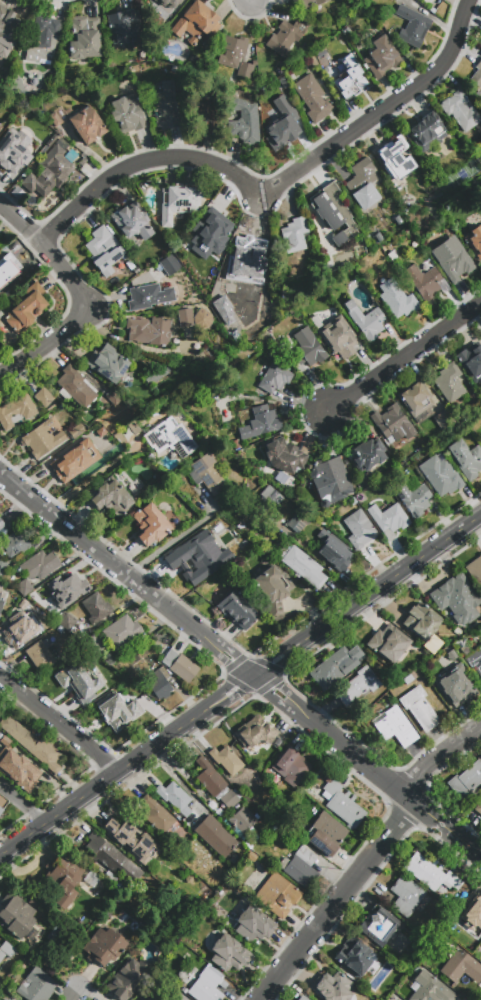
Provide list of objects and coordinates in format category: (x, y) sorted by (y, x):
building: (170, 2)
building: (305, 4)
building: (196, 22)
building: (412, 26)
building: (124, 27)
building: (7, 30)
building: (346, 31)
building: (83, 37)
building: (285, 38)
building: (44, 39)
building: (139, 52)
building: (235, 55)
building: (320, 57)
building: (381, 57)
building: (312, 60)
building: (99, 67)
building: (278, 71)
building: (475, 71)
building: (350, 79)
building: (313, 98)
building: (166, 107)
building: (460, 110)
building: (204, 113)
building: (128, 114)
building: (55, 119)
building: (243, 120)
building: (0, 126)
building: (86, 126)
building: (284, 126)
building: (36, 130)
building: (428, 132)
building: (11, 151)
building: (397, 161)
building: (49, 172)
building: (363, 184)
road: (272, 187)
building: (17, 192)
building: (179, 202)
building: (335, 212)
building: (131, 223)
building: (214, 228)
building: (296, 234)
building: (474, 240)
building: (103, 251)
building: (248, 256)
building: (452, 258)
building: (170, 265)
building: (10, 270)
building: (426, 281)
road: (81, 296)
building: (149, 296)
building: (397, 299)
building: (26, 307)
building: (223, 310)
building: (185, 317)
building: (365, 320)
building: (148, 331)
building: (338, 337)
building: (306, 349)
road: (403, 355)
building: (471, 361)
building: (108, 364)
building: (275, 378)
building: (450, 382)
building: (76, 387)
building: (43, 397)
building: (416, 399)
building: (16, 410)
building: (221, 410)
building: (443, 419)
building: (261, 422)
building: (393, 424)
building: (76, 431)
building: (169, 438)
building: (42, 439)
building: (480, 439)
building: (204, 440)
building: (250, 455)
building: (367, 455)
building: (284, 456)
building: (465, 458)
building: (66, 465)
building: (206, 474)
building: (440, 475)
road: (89, 477)
building: (330, 480)
building: (111, 496)
building: (264, 496)
building: (412, 496)
building: (361, 498)
building: (352, 501)
building: (176, 518)
building: (389, 519)
building: (298, 520)
building: (323, 524)
building: (151, 525)
building: (2, 528)
building: (359, 529)
road: (178, 536)
building: (16, 543)
building: (333, 551)
building: (201, 556)
building: (39, 565)
building: (301, 565)
building: (3, 566)
building: (475, 570)
road: (127, 574)
building: (66, 585)
building: (24, 587)
building: (273, 587)
building: (0, 595)
building: (457, 599)
building: (1, 604)
building: (233, 605)
building: (96, 608)
building: (54, 609)
building: (66, 620)
building: (421, 621)
building: (18, 628)
building: (59, 629)
building: (121, 632)
building: (94, 644)
building: (388, 644)
building: (40, 654)
building: (474, 660)
building: (180, 665)
building: (336, 667)
building: (78, 682)
building: (160, 684)
road: (240, 684)
building: (452, 685)
building: (358, 686)
building: (420, 708)
building: (117, 710)
road: (58, 720)
building: (396, 727)
building: (253, 733)
building: (32, 744)
building: (226, 759)
building: (16, 764)
building: (290, 766)
road: (366, 767)
building: (210, 779)
road: (179, 781)
building: (465, 781)
building: (175, 797)
building: (229, 799)
building: (3, 802)
road: (23, 803)
building: (210, 803)
building: (342, 804)
building: (478, 807)
building: (217, 811)
building: (159, 818)
building: (242, 820)
building: (324, 832)
building: (215, 836)
building: (132, 841)
road: (367, 858)
building: (112, 859)
building: (300, 867)
building: (430, 873)
building: (92, 878)
building: (61, 881)
building: (277, 895)
building: (406, 895)
building: (16, 917)
building: (467, 918)
building: (253, 924)
building: (377, 925)
building: (103, 947)
building: (479, 949)
building: (7, 950)
building: (228, 954)
building: (353, 956)
building: (459, 965)
building: (128, 979)
building: (37, 985)
building: (207, 985)
building: (333, 987)
building: (428, 987)
road: (72, 993)
building: (155, 997)
building: (302, 997)
building: (3, 999)
building: (5, 999)

